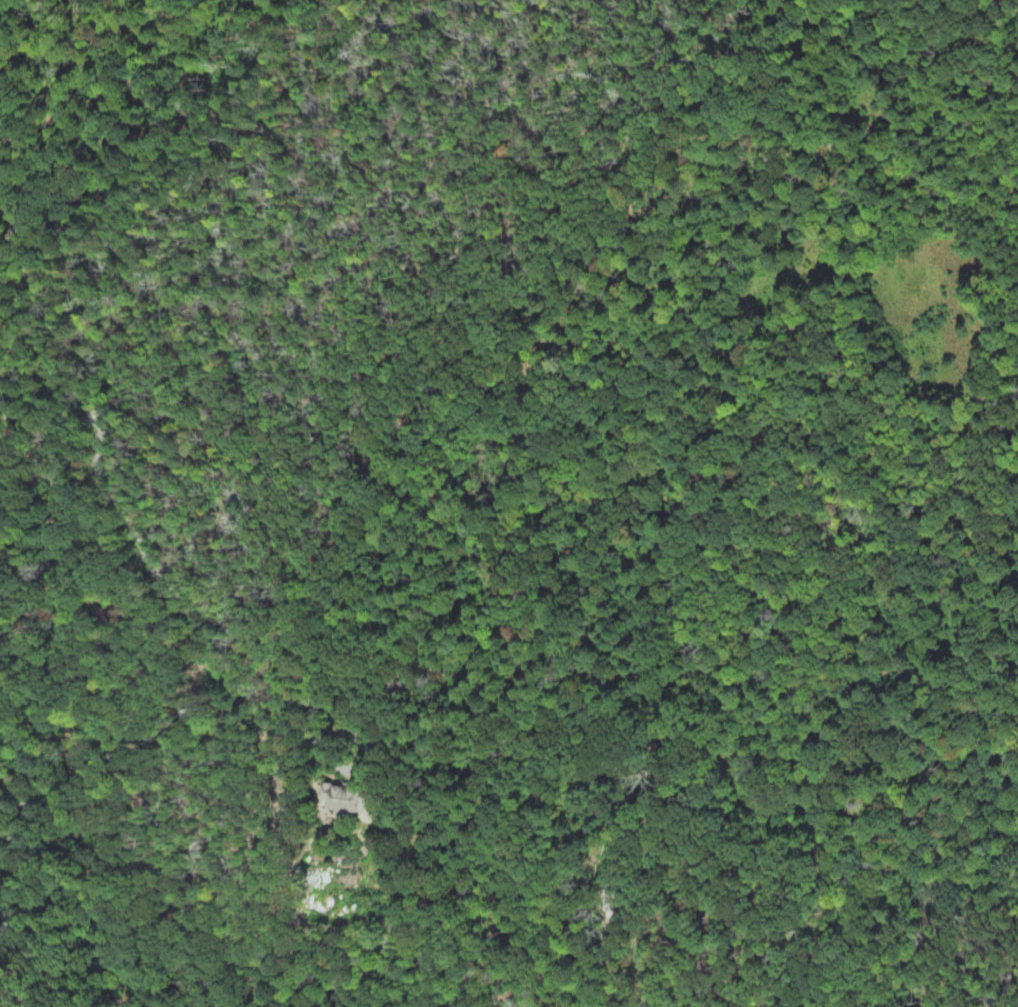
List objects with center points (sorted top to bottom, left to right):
building: (351, 803)

